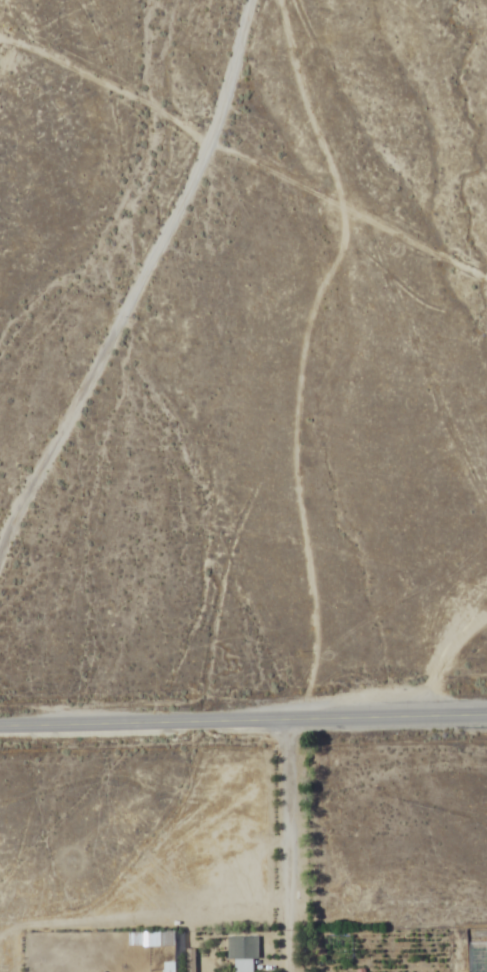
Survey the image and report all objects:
road: (136, 278)
road: (439, 653)
road: (243, 720)
road: (286, 845)
building: (152, 940)
building: (242, 952)
building: (167, 967)

